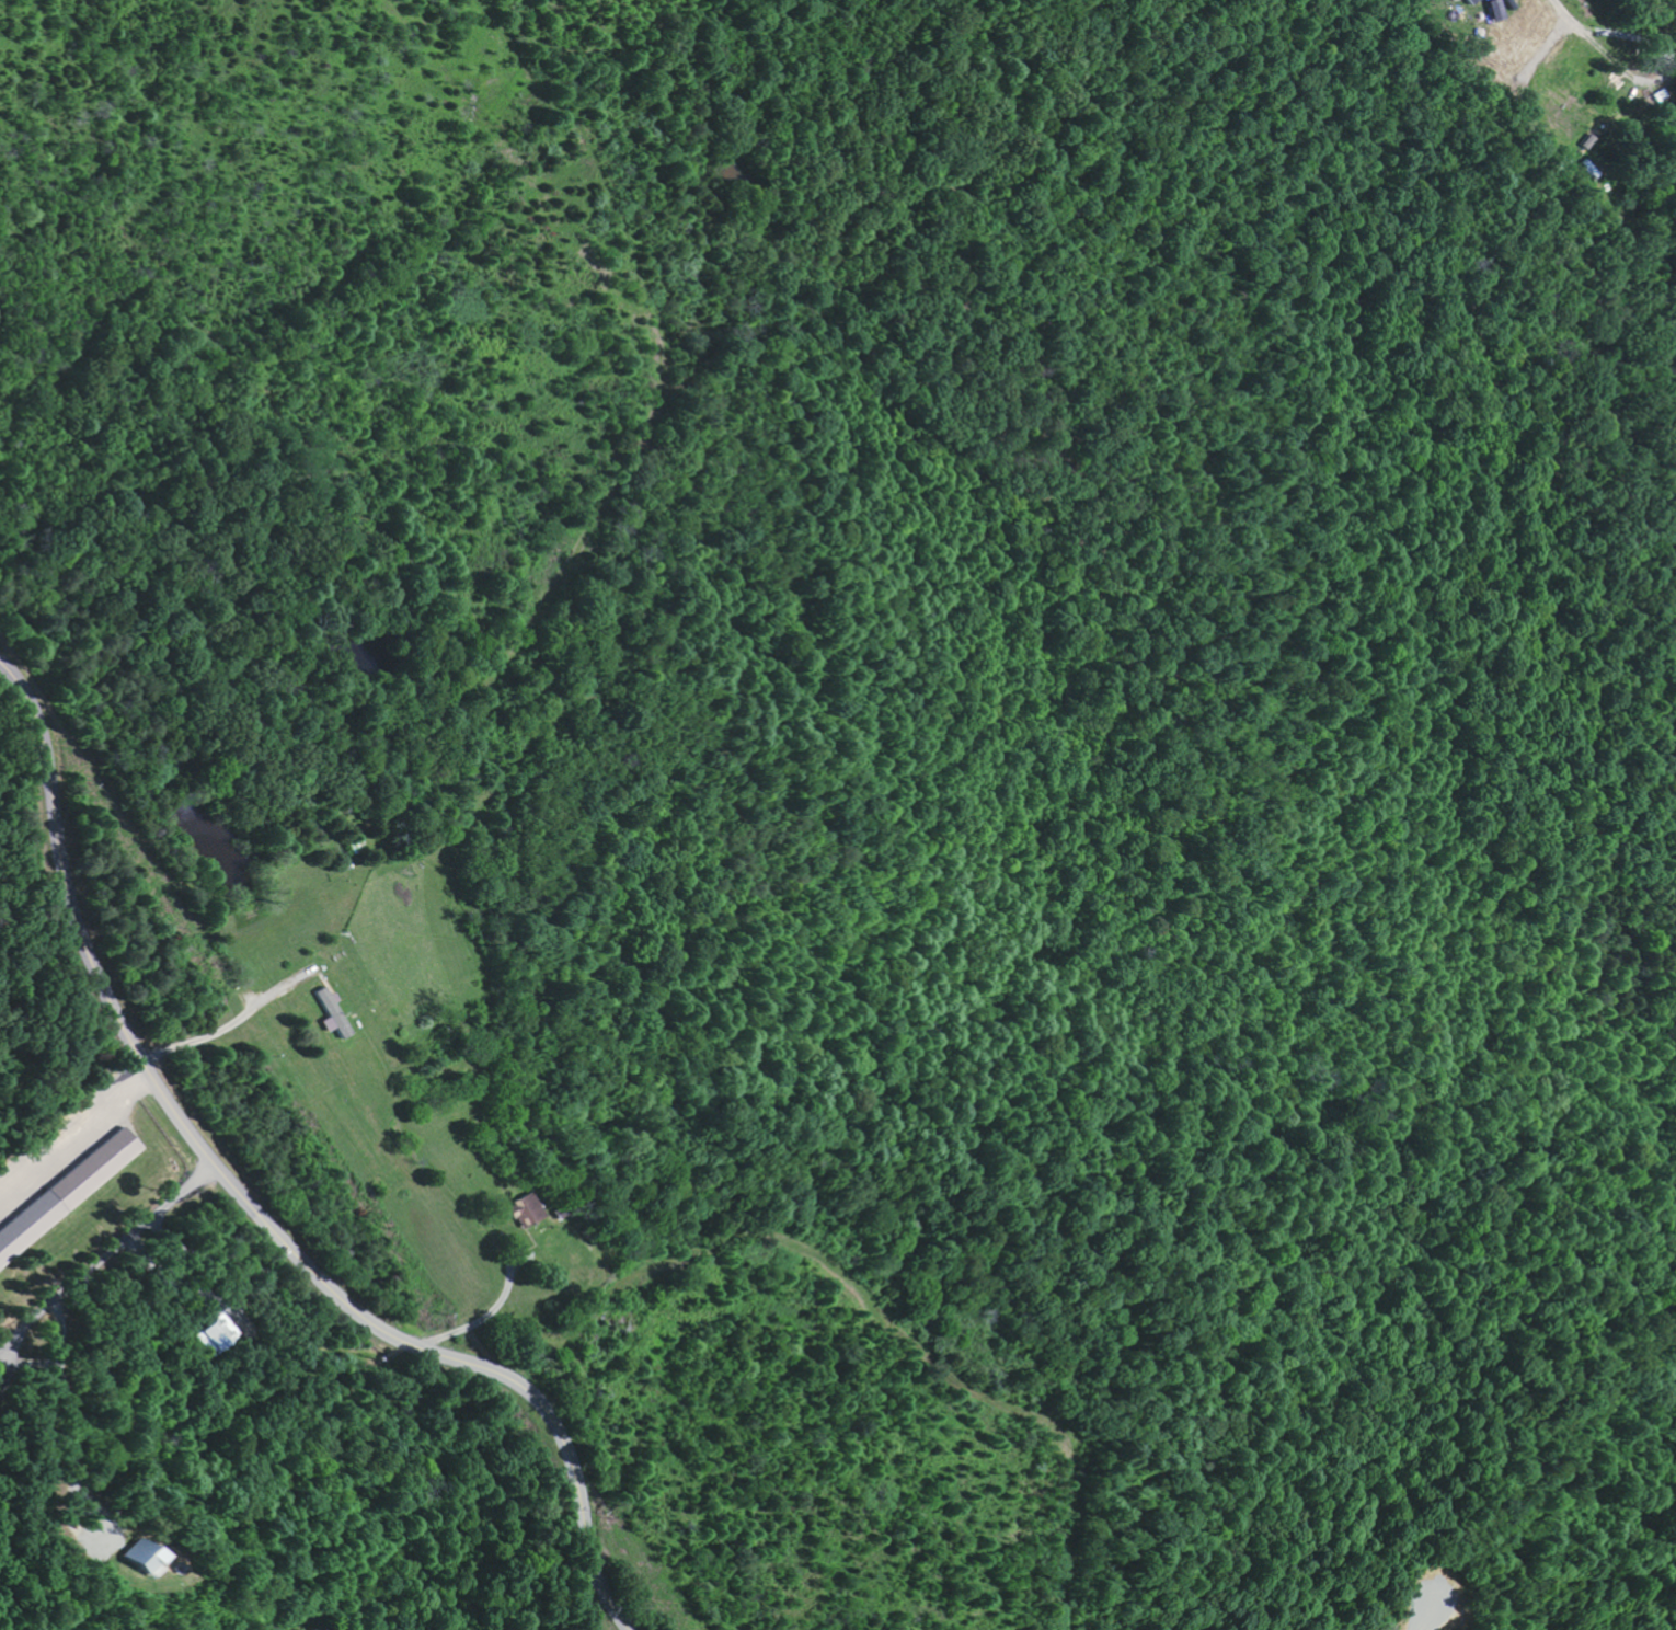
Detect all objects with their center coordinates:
building: (1469, 1)
building: (335, 1013)
road: (433, 1192)
building: (70, 1193)
road: (250, 1203)
building: (527, 1210)
road: (652, 1263)
building: (220, 1335)
road: (639, 1344)
building: (144, 1553)

